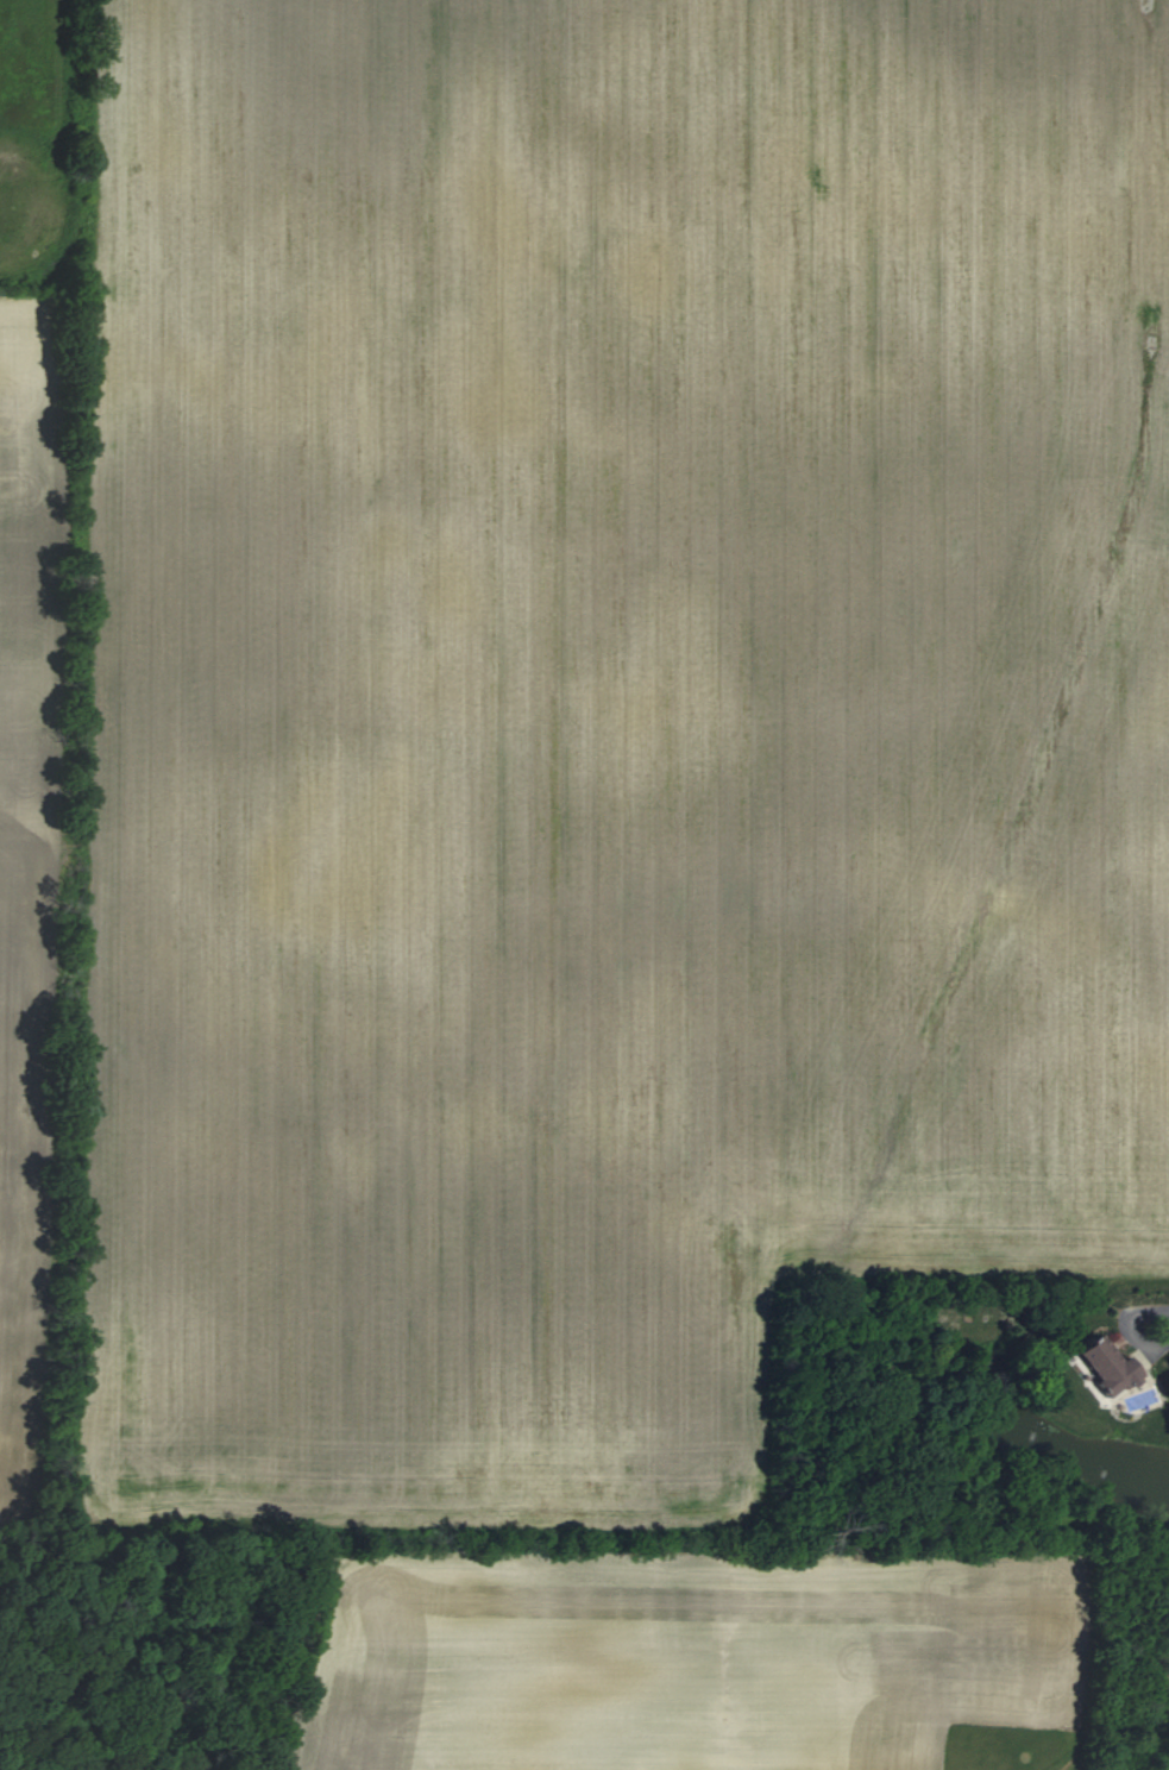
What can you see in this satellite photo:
road: (1131, 1323)
building: (1102, 1367)

